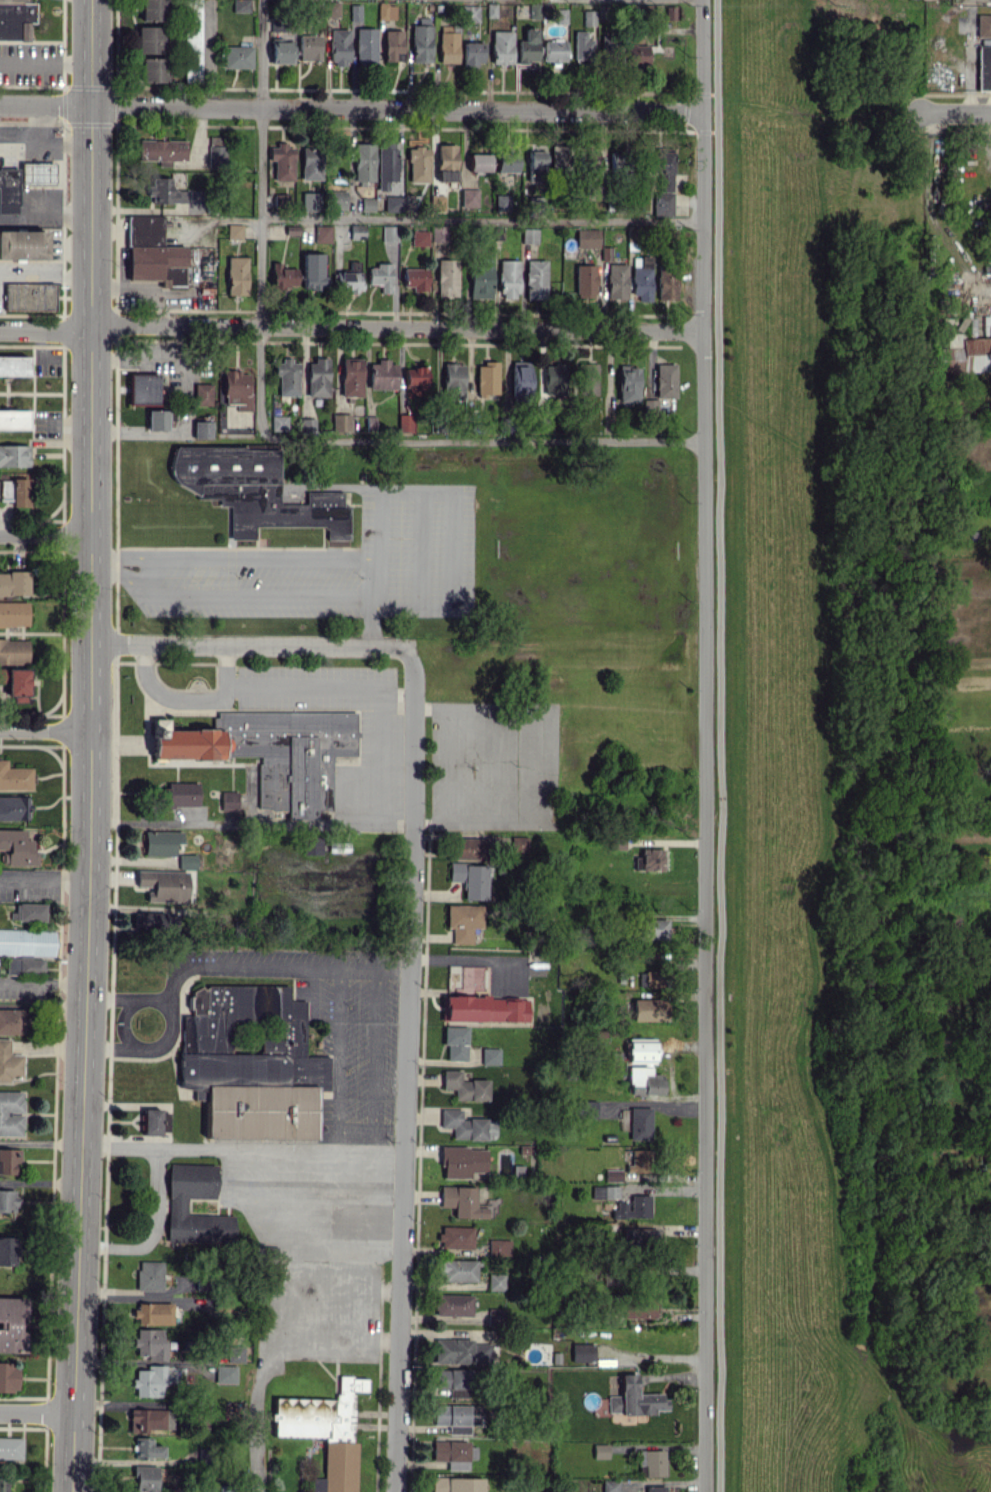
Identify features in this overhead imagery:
building: (240, 5)
building: (331, 8)
building: (153, 10)
building: (386, 10)
building: (355, 12)
building: (470, 12)
building: (669, 12)
building: (560, 15)
building: (588, 17)
building: (15, 19)
building: (983, 22)
building: (277, 24)
building: (149, 39)
building: (193, 40)
building: (421, 40)
building: (609, 44)
building: (365, 45)
building: (393, 45)
building: (528, 46)
building: (582, 46)
building: (309, 47)
building: (339, 47)
building: (501, 50)
building: (554, 50)
building: (281, 51)
building: (472, 53)
building: (636, 55)
building: (237, 56)
road: (45, 62)
building: (984, 67)
building: (153, 69)
road: (351, 108)
road: (955, 111)
road: (40, 133)
road: (45, 138)
building: (215, 150)
building: (559, 157)
building: (615, 159)
building: (507, 160)
building: (282, 161)
building: (589, 161)
building: (446, 162)
building: (479, 162)
building: (310, 163)
building: (363, 163)
building: (386, 164)
building: (418, 164)
building: (535, 165)
building: (37, 172)
road: (39, 174)
building: (662, 182)
building: (8, 190)
building: (165, 191)
building: (469, 197)
building: (280, 200)
road: (39, 201)
building: (310, 201)
building: (339, 202)
building: (393, 203)
building: (502, 203)
building: (367, 204)
road: (260, 207)
road: (45, 217)
road: (481, 218)
building: (145, 228)
building: (234, 231)
building: (356, 231)
building: (322, 233)
building: (389, 233)
building: (438, 233)
building: (529, 235)
building: (419, 237)
building: (587, 237)
building: (22, 244)
building: (157, 264)
building: (312, 271)
building: (236, 275)
building: (283, 275)
building: (381, 276)
road: (45, 277)
building: (446, 277)
building: (415, 278)
building: (480, 278)
building: (508, 278)
building: (641, 278)
building: (535, 279)
building: (585, 280)
building: (346, 281)
building: (616, 281)
building: (666, 283)
building: (29, 296)
road: (351, 330)
building: (987, 330)
building: (965, 355)
building: (13, 365)
building: (382, 374)
building: (351, 376)
building: (287, 377)
building: (317, 377)
building: (519, 378)
building: (486, 379)
building: (554, 379)
building: (588, 379)
building: (415, 380)
building: (665, 380)
building: (453, 381)
building: (628, 384)
building: (142, 388)
building: (236, 389)
building: (202, 394)
building: (650, 406)
building: (13, 419)
building: (156, 419)
building: (278, 422)
building: (341, 422)
building: (369, 422)
building: (405, 423)
building: (307, 424)
building: (201, 429)
road: (473, 441)
building: (14, 455)
building: (253, 490)
building: (15, 491)
road: (447, 519)
road: (45, 535)
building: (14, 583)
building: (13, 613)
road: (372, 621)
road: (249, 645)
building: (13, 650)
road: (221, 666)
building: (15, 680)
road: (365, 686)
road: (394, 700)
road: (45, 729)
road: (705, 745)
road: (89, 746)
road: (719, 746)
railway: (733, 746)
building: (272, 752)
building: (14, 776)
building: (180, 794)
building: (228, 800)
building: (14, 807)
road: (392, 824)
building: (160, 842)
building: (516, 843)
building: (311, 845)
building: (18, 847)
building: (467, 848)
building: (648, 860)
building: (186, 861)
road: (43, 879)
building: (470, 879)
building: (163, 884)
building: (28, 912)
building: (153, 920)
building: (462, 921)
building: (653, 928)
building: (26, 949)
road: (273, 964)
building: (653, 978)
building: (483, 1008)
building: (646, 1009)
building: (11, 1021)
road: (167, 1023)
building: (246, 1038)
building: (455, 1042)
building: (487, 1055)
building: (9, 1062)
building: (642, 1067)
road: (404, 1071)
building: (465, 1086)
building: (584, 1108)
building: (605, 1108)
building: (259, 1111)
building: (10, 1113)
building: (152, 1121)
building: (638, 1123)
building: (467, 1125)
road: (241, 1149)
building: (8, 1160)
building: (639, 1160)
building: (462, 1161)
building: (612, 1174)
building: (604, 1190)
building: (6, 1200)
building: (462, 1201)
building: (175, 1206)
building: (632, 1207)
road: (150, 1228)
building: (639, 1236)
building: (455, 1237)
building: (499, 1247)
building: (6, 1250)
building: (457, 1270)
building: (149, 1275)
building: (496, 1280)
building: (453, 1304)
building: (638, 1308)
building: (152, 1312)
building: (11, 1322)
road: (265, 1328)
road: (331, 1339)
building: (148, 1343)
building: (460, 1351)
building: (582, 1352)
building: (234, 1353)
building: (224, 1373)
building: (8, 1376)
building: (153, 1379)
building: (453, 1381)
building: (633, 1398)
road: (37, 1412)
building: (457, 1417)
building: (149, 1419)
building: (324, 1431)
building: (10, 1447)
building: (146, 1448)
building: (600, 1450)
building: (451, 1453)
building: (650, 1462)
building: (144, 1478)
building: (3, 1483)
building: (456, 1484)
building: (610, 1485)
building: (654, 1488)

